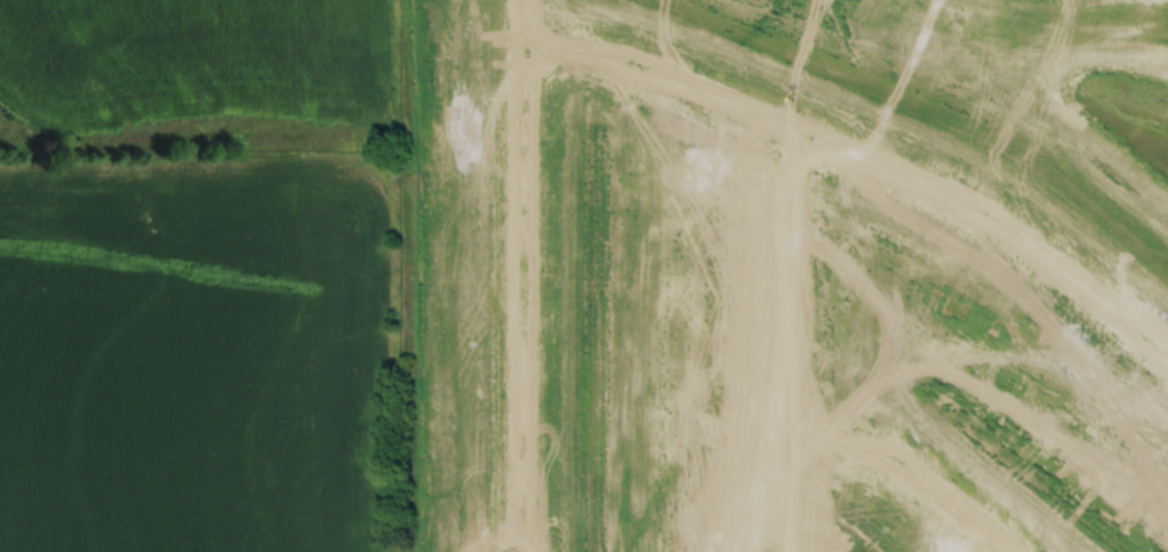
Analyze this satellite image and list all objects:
road: (873, 149)
road: (535, 276)
road: (785, 335)
road: (906, 473)

